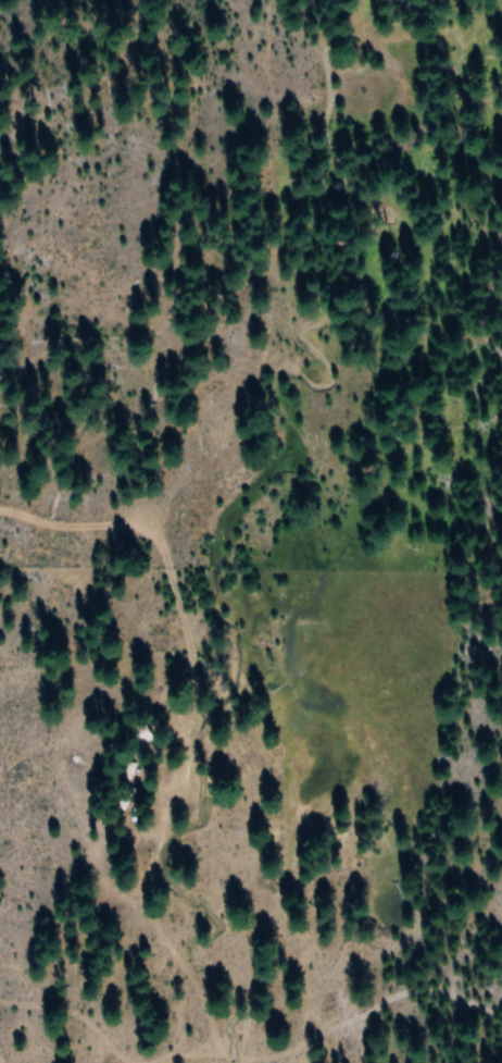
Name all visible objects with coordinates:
road: (103, 579)

